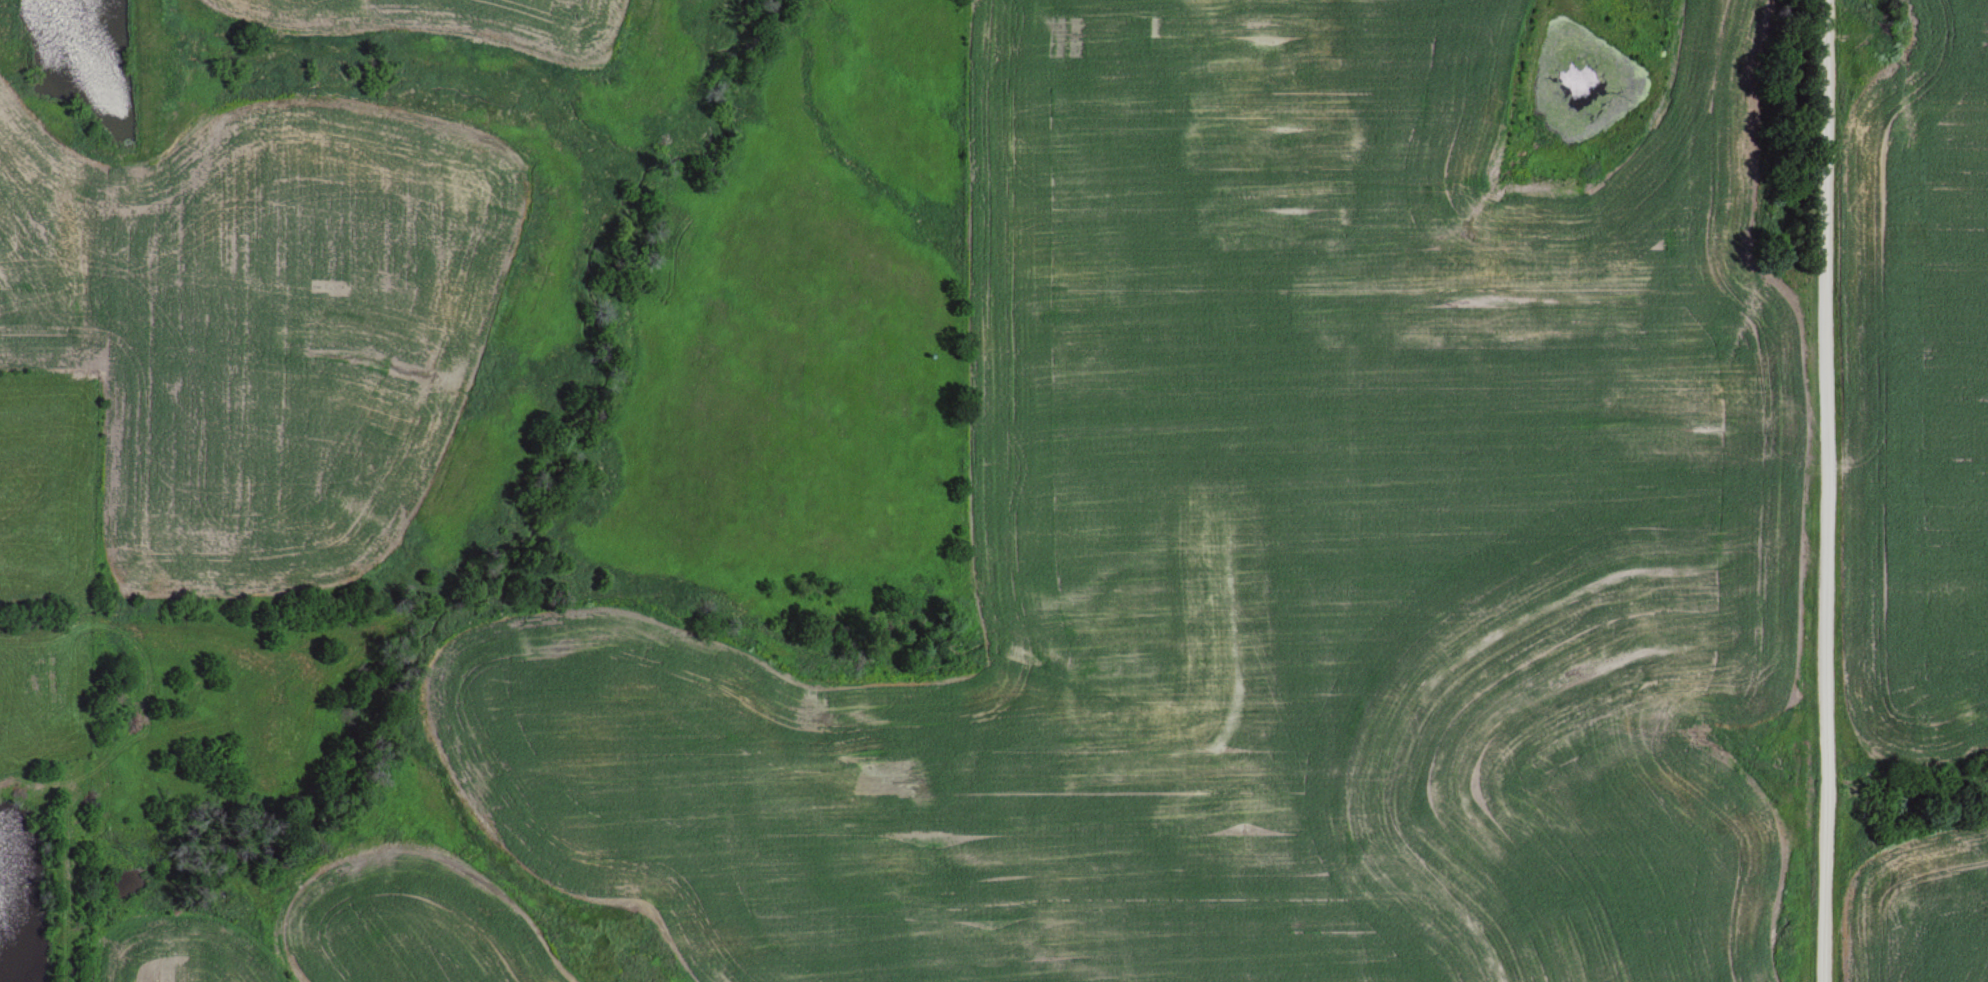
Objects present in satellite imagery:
road: (1825, 490)

